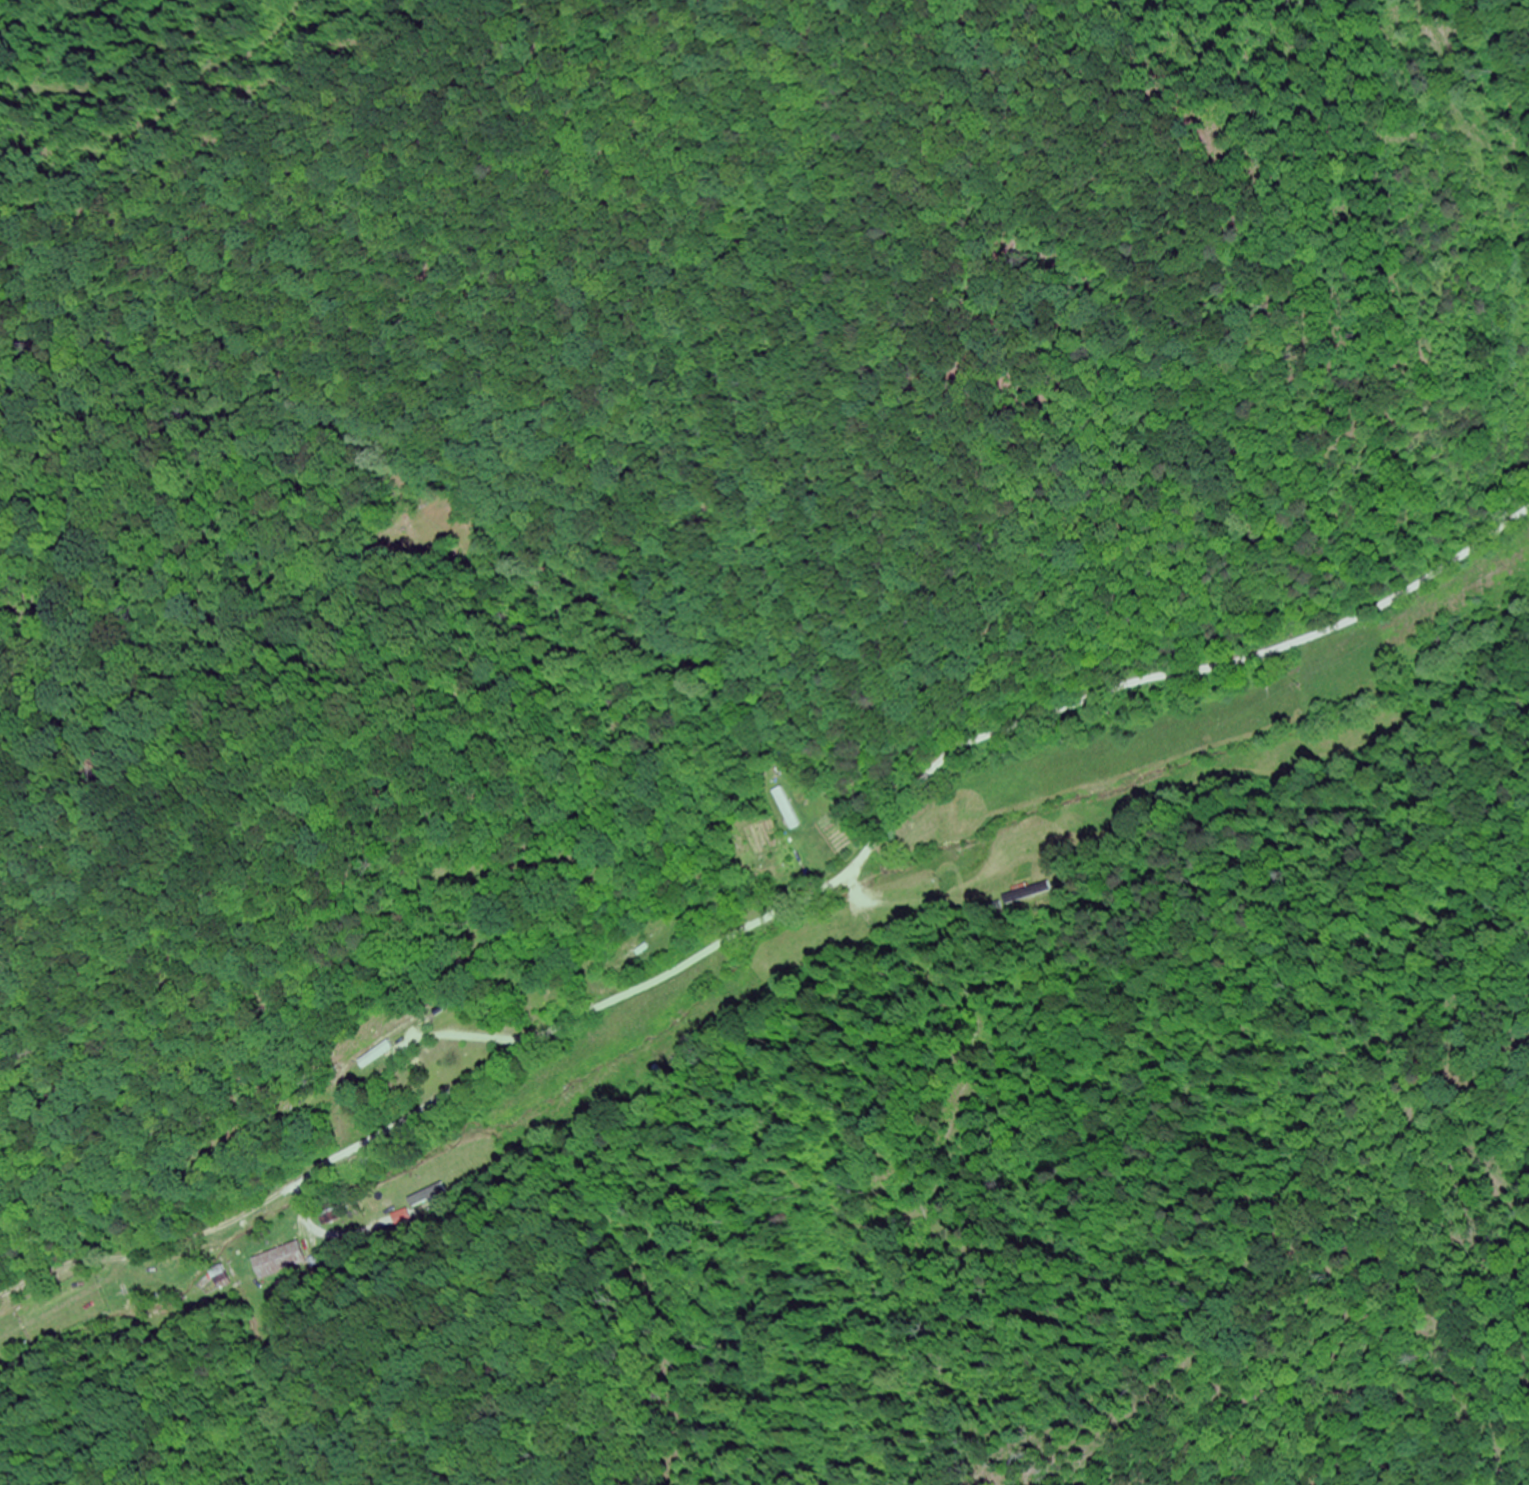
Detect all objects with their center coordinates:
building: (783, 810)
building: (929, 830)
building: (1030, 894)
road: (776, 911)
building: (277, 1262)
building: (148, 1271)

